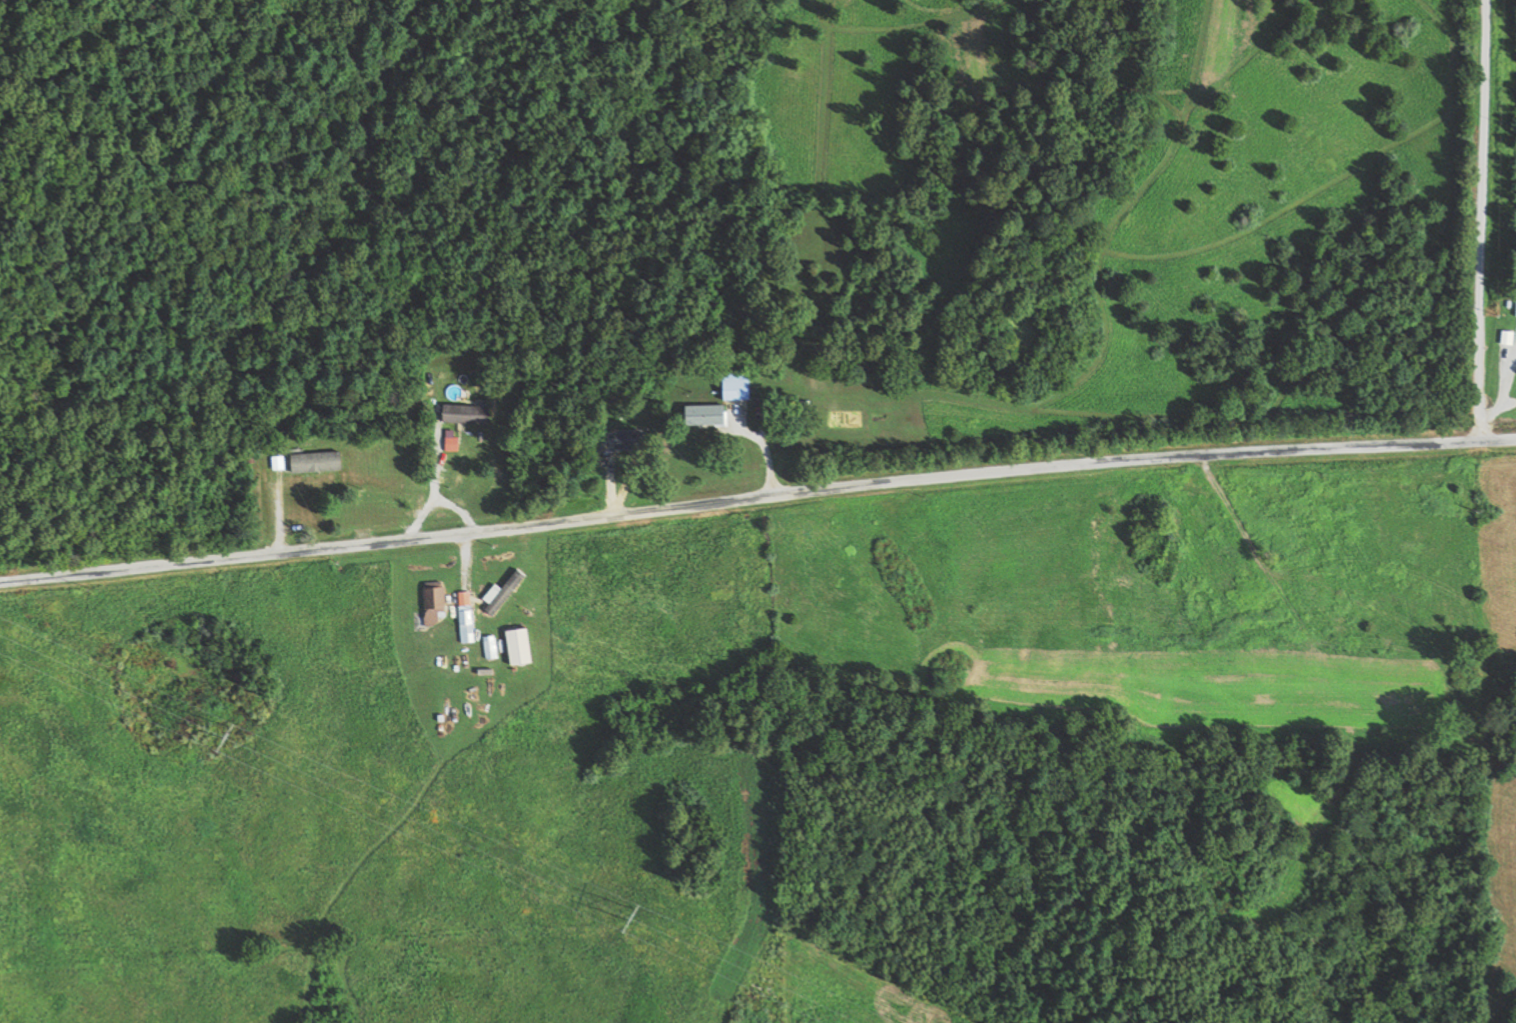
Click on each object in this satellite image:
road: (1481, 219)
building: (1510, 338)
building: (740, 386)
building: (469, 414)
building: (709, 416)
building: (633, 440)
building: (314, 463)
road: (756, 497)
building: (389, 500)
building: (506, 592)
building: (437, 604)
building: (468, 625)
building: (522, 646)
building: (492, 647)
power tower: (235, 729)
power tower: (635, 915)

